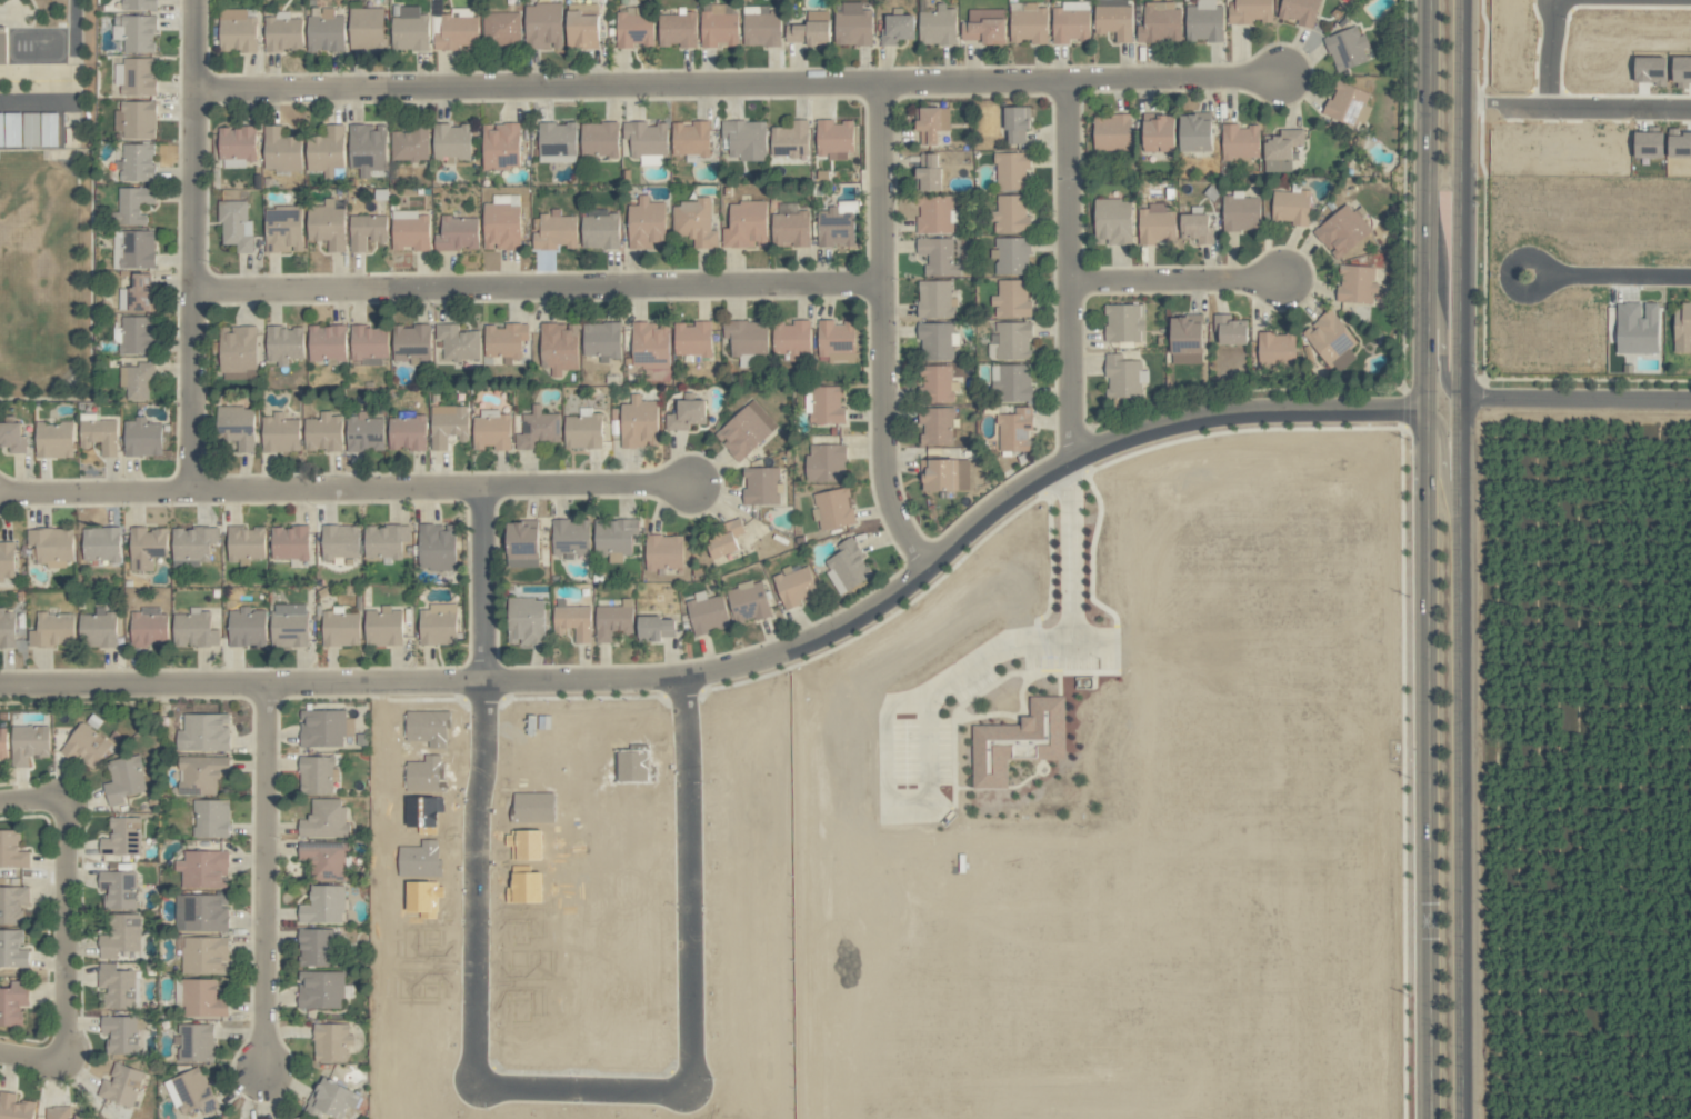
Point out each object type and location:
building: (138, 4)
building: (1251, 11)
building: (1300, 11)
building: (1114, 21)
building: (1204, 21)
building: (1029, 22)
building: (1160, 22)
building: (1070, 23)
building: (543, 24)
building: (853, 24)
building: (719, 26)
building: (938, 26)
building: (985, 26)
building: (761, 27)
building: (366, 28)
building: (409, 28)
building: (634, 28)
building: (582, 29)
building: (677, 29)
building: (810, 29)
building: (898, 29)
building: (238, 30)
building: (501, 30)
building: (324, 31)
building: (136, 33)
building: (283, 33)
building: (1347, 48)
road: (73, 50)
building: (2, 52)
road: (1545, 54)
building: (136, 77)
road: (739, 83)
building: (1347, 102)
road: (1575, 110)
building: (136, 119)
building: (931, 123)
building: (1017, 123)
building: (1112, 132)
building: (1159, 132)
building: (1197, 132)
building: (647, 138)
building: (690, 138)
building: (599, 139)
building: (790, 139)
building: (833, 139)
building: (746, 140)
building: (451, 141)
building: (237, 142)
building: (557, 142)
building: (410, 143)
building: (1240, 143)
building: (500, 146)
building: (367, 148)
building: (1283, 148)
building: (327, 149)
building: (281, 150)
building: (137, 162)
building: (929, 171)
building: (1012, 171)
building: (133, 204)
building: (1291, 207)
building: (1241, 212)
building: (1012, 213)
building: (935, 214)
building: (1113, 221)
building: (647, 222)
building: (694, 222)
building: (326, 224)
building: (1157, 224)
building: (236, 226)
building: (501, 226)
building: (746, 226)
building: (790, 228)
building: (836, 228)
building: (1198, 228)
building: (283, 229)
building: (410, 230)
building: (600, 230)
building: (367, 231)
building: (1343, 231)
building: (458, 233)
road: (194, 244)
building: (137, 250)
building: (1012, 256)
building: (938, 257)
road: (1070, 270)
road: (1508, 277)
road: (1625, 277)
road: (1177, 279)
road: (539, 284)
building: (1358, 284)
building: (138, 293)
building: (935, 299)
building: (1012, 299)
building: (1125, 322)
building: (1638, 328)
building: (1682, 328)
road: (883, 330)
building: (1231, 330)
building: (792, 332)
building: (137, 334)
building: (647, 334)
building: (747, 337)
building: (693, 339)
building: (1187, 339)
building: (1013, 340)
building: (1332, 340)
building: (504, 341)
building: (837, 341)
building: (938, 341)
building: (369, 342)
building: (411, 342)
building: (458, 342)
building: (327, 343)
building: (283, 344)
building: (559, 348)
building: (1277, 348)
road: (1441, 349)
building: (238, 351)
building: (1124, 377)
building: (137, 380)
building: (1015, 383)
building: (938, 384)
road: (1574, 406)
building: (687, 414)
building: (639, 422)
building: (448, 424)
building: (238, 427)
building: (935, 427)
building: (538, 429)
building: (746, 430)
building: (1015, 430)
building: (583, 431)
building: (323, 432)
building: (364, 432)
building: (491, 432)
building: (280, 433)
building: (407, 433)
building: (99, 434)
building: (12, 437)
building: (142, 438)
building: (53, 440)
building: (826, 463)
road: (1443, 464)
building: (945, 474)
road: (589, 486)
building: (761, 486)
road: (339, 488)
road: (97, 491)
building: (834, 509)
building: (571, 538)
building: (614, 538)
building: (726, 539)
building: (384, 541)
building: (290, 542)
building: (339, 542)
building: (101, 543)
building: (246, 544)
building: (192, 546)
building: (50, 547)
building: (437, 547)
building: (146, 548)
building: (664, 552)
building: (7, 559)
road: (1429, 559)
road: (1460, 559)
building: (848, 566)
road: (484, 583)
building: (794, 587)
building: (748, 601)
building: (707, 613)
building: (573, 620)
building: (613, 620)
building: (527, 621)
building: (438, 625)
building: (289, 626)
building: (149, 627)
building: (247, 627)
building: (383, 627)
building: (657, 628)
building: (7, 629)
building: (98, 629)
building: (194, 629)
building: (341, 629)
building: (52, 630)
road: (748, 663)
road: (937, 691)
building: (324, 728)
building: (203, 732)
building: (1019, 742)
building: (2, 743)
building: (29, 743)
building: (86, 746)
building: (201, 775)
building: (317, 775)
crop: (1568, 777)
building: (124, 779)
road: (33, 800)
building: (211, 818)
building: (326, 819)
crop: (968, 831)
building: (122, 837)
building: (11, 850)
building: (327, 860)
building: (203, 869)
road: (267, 876)
building: (119, 890)
building: (12, 905)
building: (323, 906)
road: (66, 930)
building: (121, 937)
building: (317, 948)
building: (12, 950)
building: (204, 956)
building: (119, 987)
building: (320, 990)
building: (202, 1000)
building: (12, 1003)
building: (121, 1035)
building: (331, 1042)
building: (196, 1043)
road: (32, 1057)
building: (121, 1086)
road: (587, 1089)
building: (193, 1091)
building: (334, 1100)
building: (14, 1108)
building: (64, 1113)

